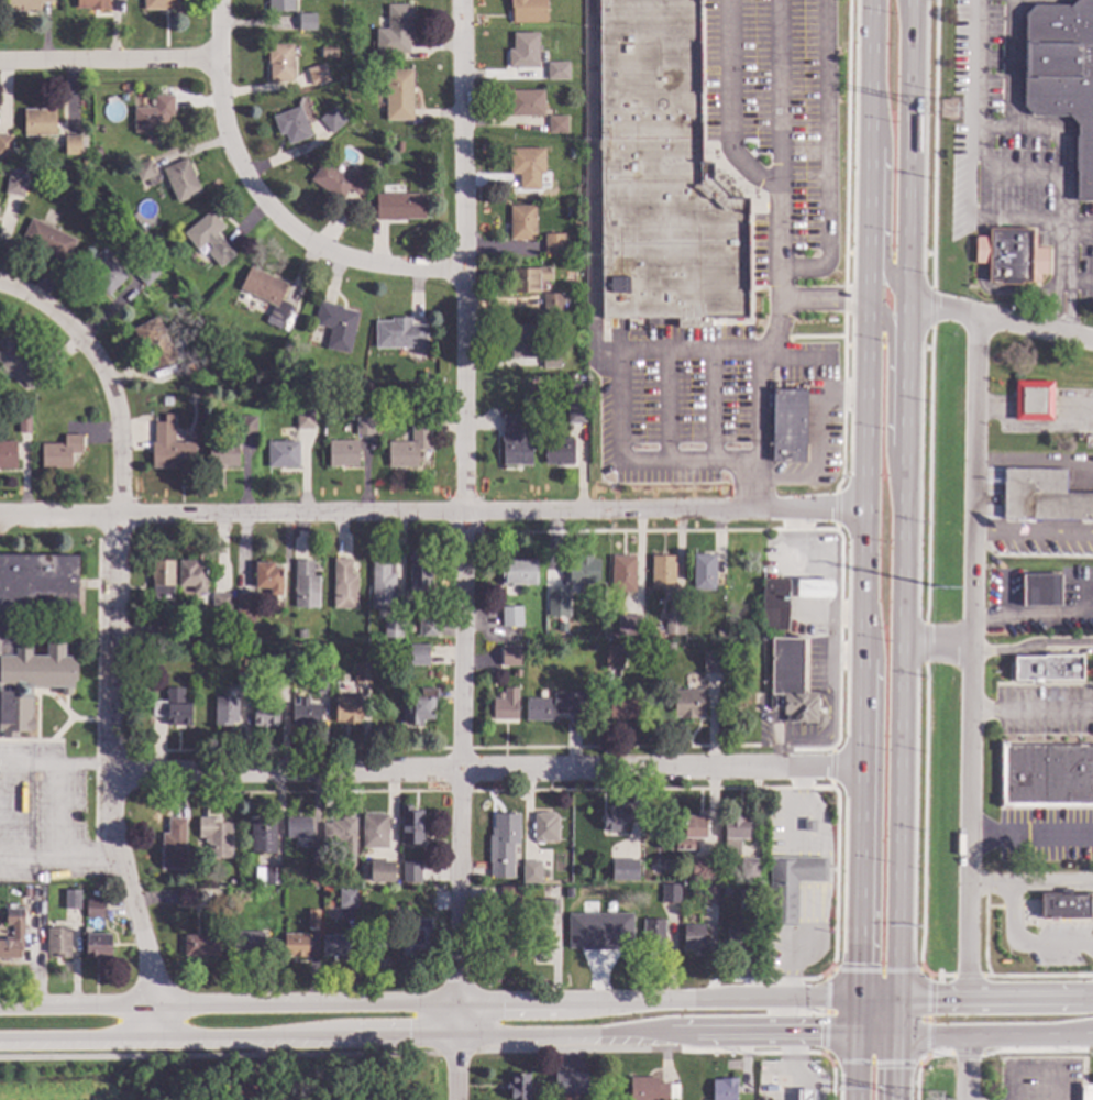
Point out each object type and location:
building: (92, 3)
building: (24, 4)
building: (161, 4)
building: (280, 4)
building: (527, 10)
road: (906, 10)
building: (307, 21)
building: (395, 30)
building: (523, 50)
building: (331, 51)
building: (351, 52)
road: (108, 57)
building: (279, 61)
road: (1013, 64)
building: (557, 69)
building: (1063, 70)
building: (317, 73)
building: (398, 94)
road: (775, 96)
building: (526, 101)
power tower: (951, 109)
building: (154, 114)
building: (331, 119)
building: (40, 121)
building: (291, 123)
building: (556, 123)
road: (1055, 129)
building: (5, 144)
building: (73, 144)
building: (398, 145)
road: (827, 155)
building: (527, 165)
building: (146, 170)
road: (1020, 174)
building: (662, 176)
building: (181, 179)
building: (338, 180)
building: (15, 185)
road: (595, 185)
road: (772, 186)
road: (883, 197)
building: (398, 205)
road: (982, 211)
road: (257, 215)
building: (521, 221)
road: (1077, 231)
building: (209, 237)
building: (48, 238)
building: (553, 242)
building: (1011, 253)
building: (104, 272)
building: (145, 272)
building: (529, 278)
road: (1078, 282)
building: (267, 293)
building: (174, 294)
building: (554, 301)
building: (579, 310)
road: (1000, 319)
building: (336, 324)
building: (399, 333)
building: (294, 335)
building: (523, 340)
building: (155, 341)
building: (551, 361)
building: (20, 363)
road: (103, 373)
building: (233, 374)
road: (887, 396)
building: (1033, 399)
road: (618, 403)
building: (575, 405)
road: (757, 405)
building: (305, 418)
building: (23, 422)
building: (247, 425)
building: (364, 425)
building: (787, 425)
building: (514, 441)
building: (410, 442)
road: (821, 443)
building: (169, 447)
building: (557, 450)
building: (60, 451)
building: (342, 452)
building: (222, 453)
building: (283, 453)
building: (8, 454)
road: (1035, 460)
building: (1042, 495)
road: (902, 498)
road: (431, 513)
road: (862, 515)
flagpole: (1016, 522)
road: (1034, 531)
road: (461, 550)
building: (583, 569)
building: (517, 570)
building: (662, 571)
building: (704, 571)
building: (418, 572)
building: (622, 573)
building: (191, 575)
building: (268, 576)
building: (162, 579)
building: (382, 582)
building: (343, 583)
building: (305, 584)
building: (815, 588)
building: (1040, 588)
building: (552, 594)
building: (221, 603)
building: (775, 604)
building: (245, 607)
building: (554, 609)
power tower: (945, 609)
building: (511, 615)
road: (1033, 616)
building: (628, 624)
building: (674, 624)
building: (393, 627)
building: (427, 627)
building: (692, 628)
building: (594, 629)
building: (651, 631)
building: (165, 632)
building: (301, 632)
building: (764, 634)
building: (241, 635)
road: (1033, 645)
building: (670, 646)
building: (592, 647)
building: (516, 648)
building: (15, 649)
road: (937, 650)
building: (417, 654)
road: (973, 656)
building: (612, 657)
building: (711, 661)
building: (278, 662)
building: (1046, 667)
building: (362, 671)
building: (516, 671)
building: (244, 679)
building: (791, 682)
building: (321, 683)
building: (687, 702)
building: (506, 704)
building: (553, 705)
building: (173, 706)
building: (419, 706)
building: (345, 708)
building: (622, 708)
building: (225, 710)
road: (1033, 711)
building: (305, 712)
building: (265, 713)
road: (484, 768)
building: (1047, 773)
road: (109, 778)
road: (57, 813)
building: (616, 817)
road: (874, 821)
building: (410, 824)
building: (809, 824)
building: (298, 826)
building: (544, 826)
building: (374, 831)
building: (692, 831)
building: (735, 832)
building: (342, 833)
building: (263, 834)
parking lot: (1045, 835)
building: (216, 836)
building: (503, 843)
road: (1031, 843)
building: (174, 844)
building: (704, 867)
building: (749, 867)
building: (531, 870)
building: (385, 871)
building: (409, 871)
building: (627, 872)
building: (267, 873)
building: (424, 873)
building: (313, 875)
road: (1046, 880)
road: (984, 882)
building: (790, 884)
building: (52, 886)
building: (73, 887)
road: (1058, 887)
road: (808, 888)
building: (726, 889)
building: (670, 892)
building: (709, 893)
building: (187, 895)
building: (347, 897)
building: (509, 898)
building: (70, 900)
building: (753, 901)
building: (549, 905)
building: (1064, 905)
building: (93, 908)
building: (593, 915)
building: (312, 917)
building: (13, 933)
building: (653, 934)
building: (693, 936)
building: (415, 937)
building: (375, 938)
building: (737, 938)
building: (58, 942)
building: (538, 942)
road: (1017, 942)
road: (1088, 942)
building: (254, 943)
building: (501, 943)
building: (575, 943)
building: (296, 944)
building: (334, 944)
building: (96, 945)
building: (201, 945)
parking lot: (1061, 947)
road: (1088, 947)
road: (38, 960)
road: (76, 964)
road: (875, 968)
road: (827, 969)
road: (925, 971)
road: (993, 997)
traffic signals: (855, 998)
road: (875, 998)
traffic signals: (895, 998)
road: (427, 1001)
road: (1004, 1007)
road: (824, 1013)
road: (783, 1015)
road: (927, 1015)
road: (973, 1028)
traffic signals: (854, 1031)
traffic signals: (895, 1031)
road: (774, 1032)
road: (346, 1037)
road: (875, 1046)
road: (895, 1048)
road: (750, 1052)
road: (339, 1054)
road: (825, 1058)
road: (923, 1059)
road: (874, 1063)
road: (965, 1064)
road: (790, 1065)
road: (853, 1065)
road: (1033, 1070)
parking lot: (1038, 1079)
building: (570, 1081)
building: (519, 1085)
building: (652, 1088)
building: (724, 1088)
building: (235, 1091)
building: (1084, 1092)
building: (805, 1094)
power tower: (936, 1099)

